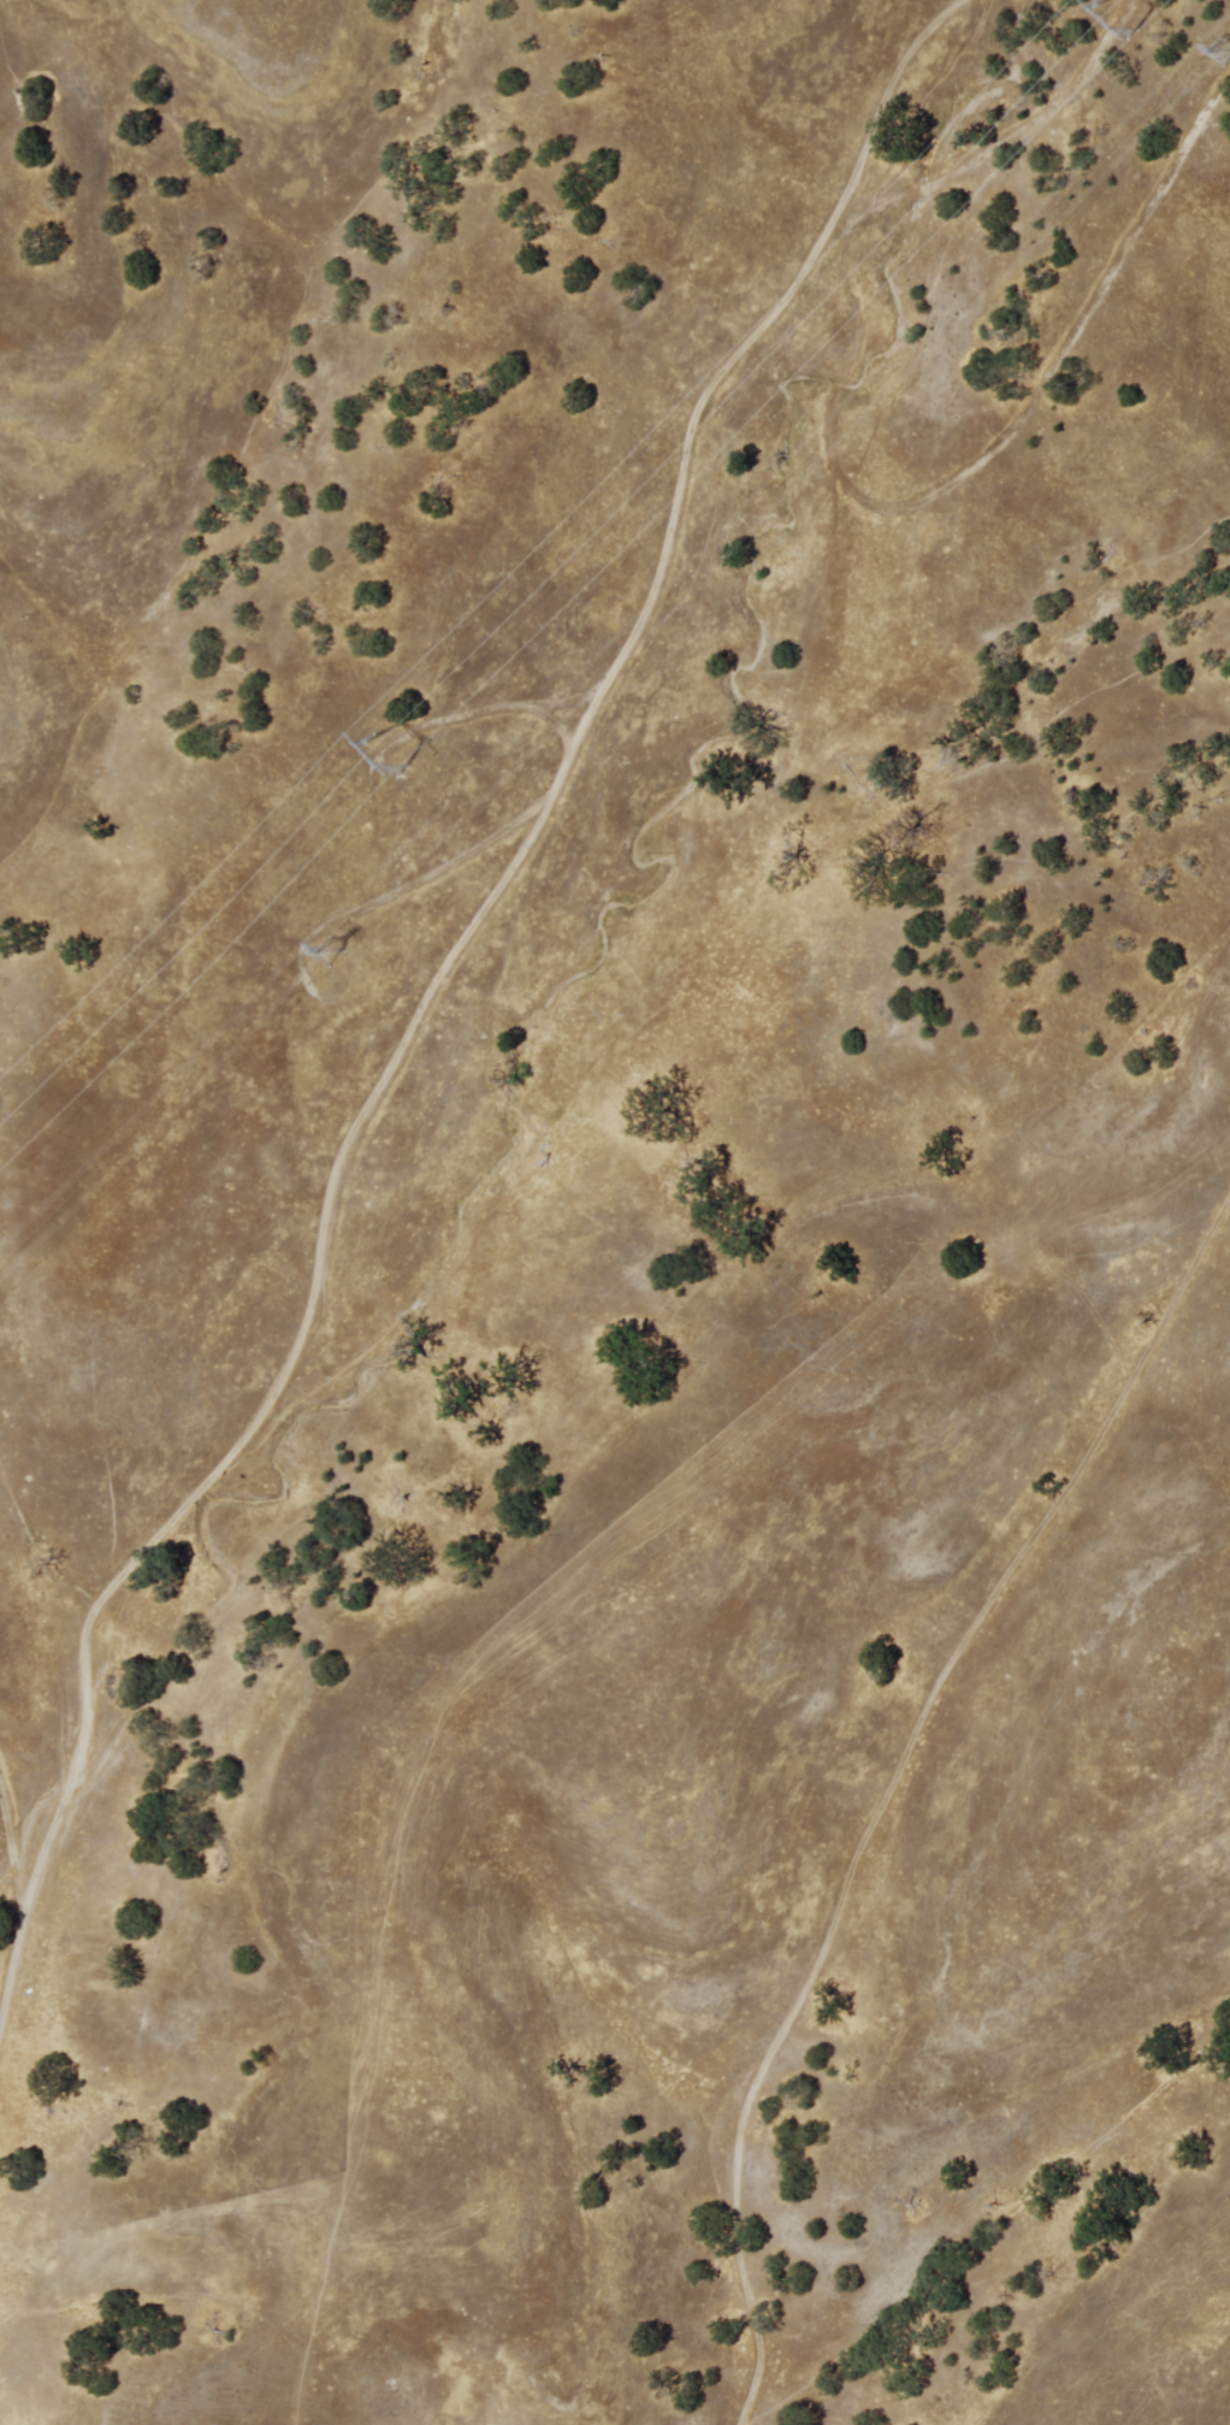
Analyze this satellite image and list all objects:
power tower: (1118, 45)
power tower: (1212, 67)
power tower: (383, 757)
power tower: (320, 956)
road: (427, 992)
road: (889, 1787)

